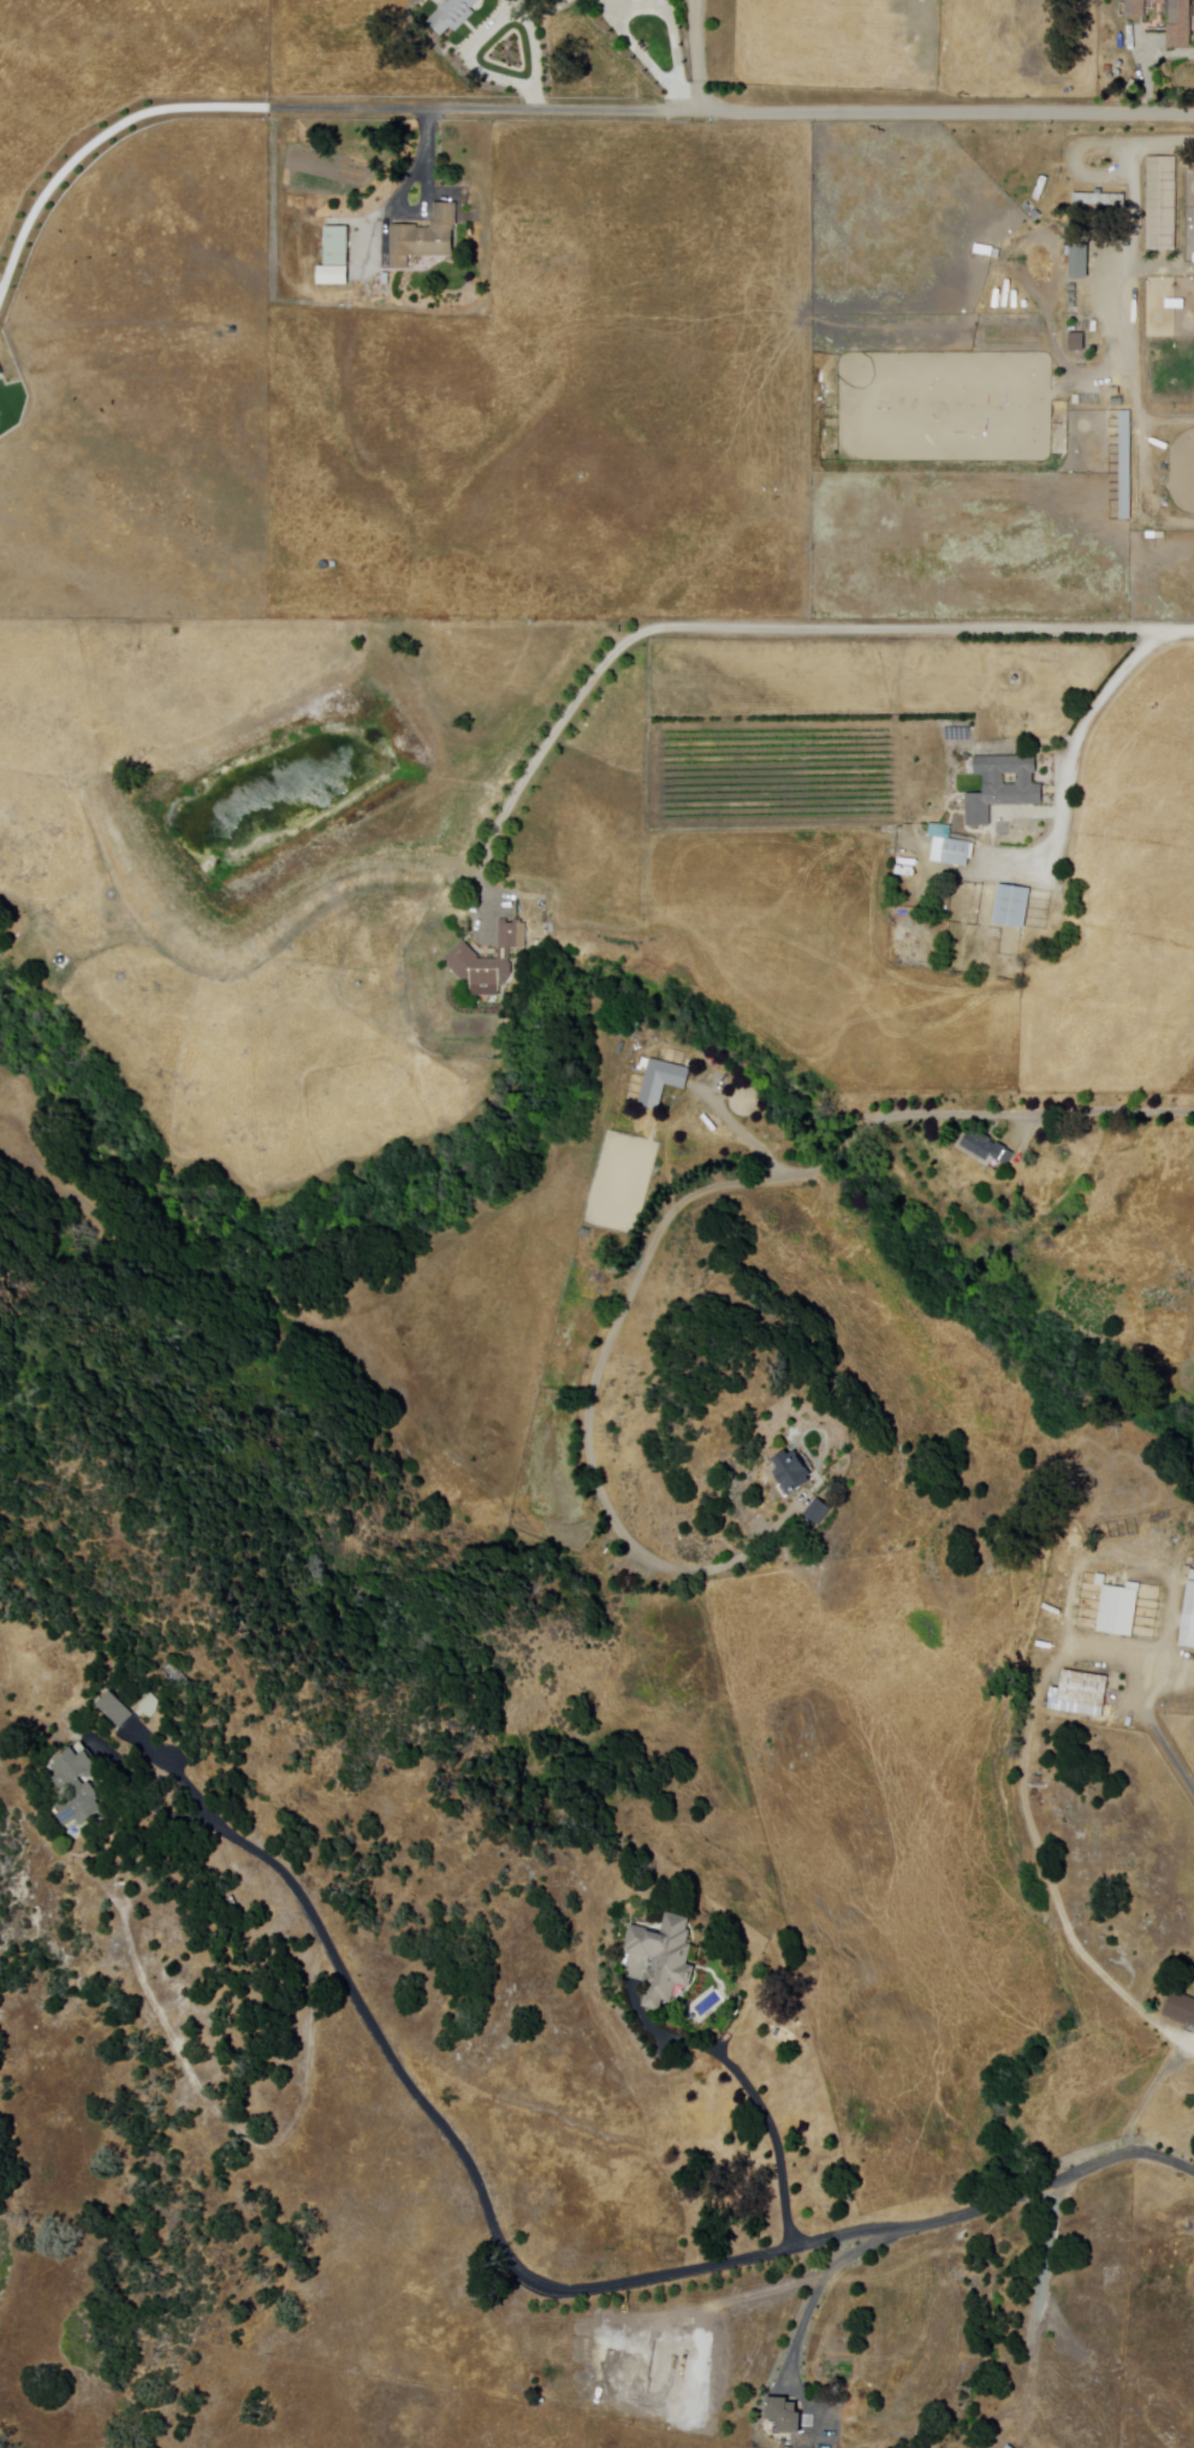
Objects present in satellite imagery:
building: (455, 16)
building: (1183, 22)
road: (535, 52)
road: (643, 57)
road: (701, 58)
road: (470, 61)
road: (732, 112)
road: (1163, 142)
road: (99, 143)
building: (1103, 201)
road: (424, 205)
building: (1164, 206)
building: (427, 237)
building: (339, 248)
building: (1083, 262)
building: (0, 280)
road: (1119, 290)
building: (1, 407)
park: (948, 407)
building: (1, 420)
building: (1123, 466)
road: (929, 626)
road: (543, 746)
building: (1005, 786)
road: (1069, 788)
building: (954, 852)
building: (1015, 906)
building: (492, 960)
building: (664, 1081)
road: (1014, 1114)
road: (745, 1134)
building: (988, 1149)
road: (600, 1386)
building: (795, 1474)
building: (821, 1513)
building: (1123, 1612)
building: (1190, 1625)
building: (1086, 1695)
building: (152, 1707)
building: (114, 1711)
road: (1152, 1717)
road: (178, 1772)
building: (77, 1786)
road: (331, 1949)
building: (663, 1960)
building: (1183, 2009)
road: (756, 2098)
road: (836, 2239)
road: (821, 2289)
building: (788, 2416)
building: (1010, 2447)

